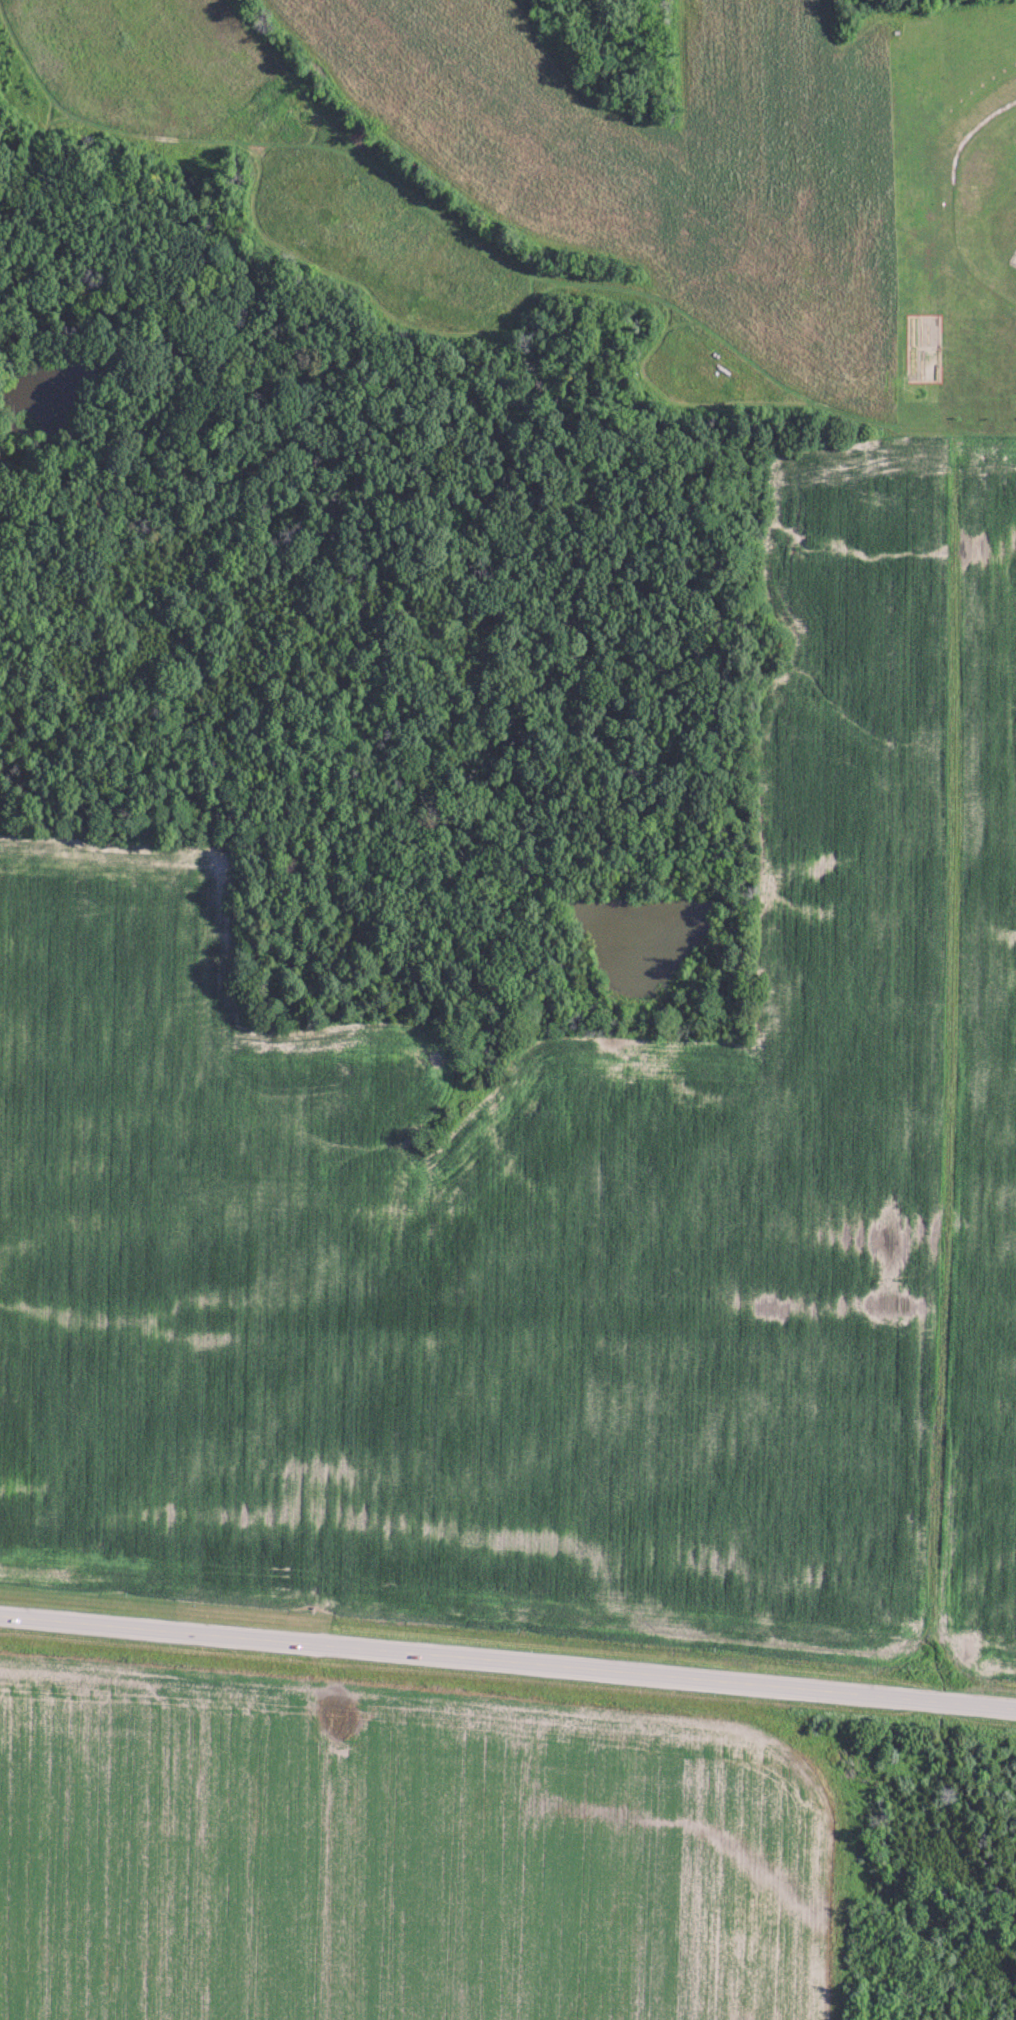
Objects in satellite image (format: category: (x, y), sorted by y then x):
road: (508, 1660)

